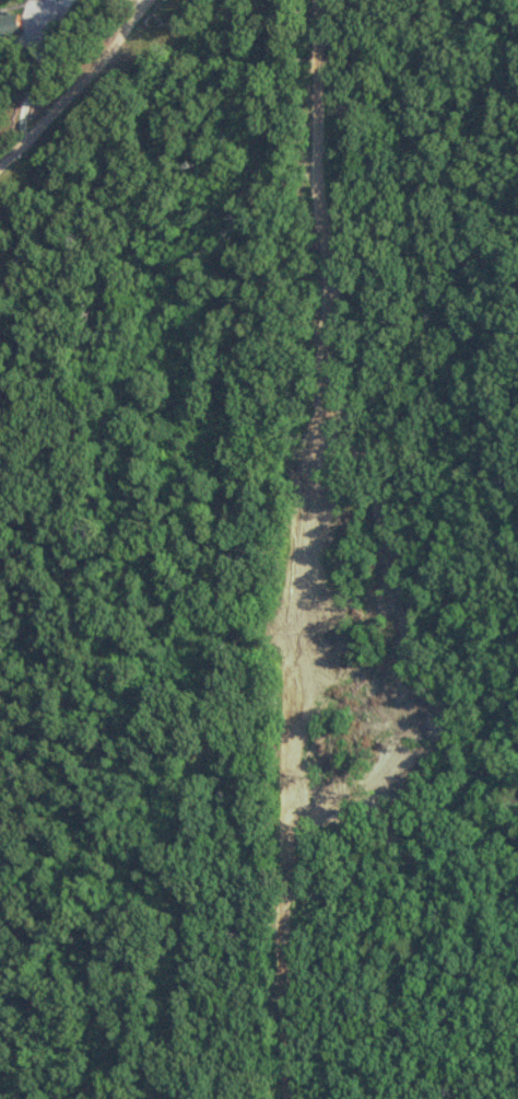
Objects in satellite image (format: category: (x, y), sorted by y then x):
building: (9, 25)
road: (72, 80)

